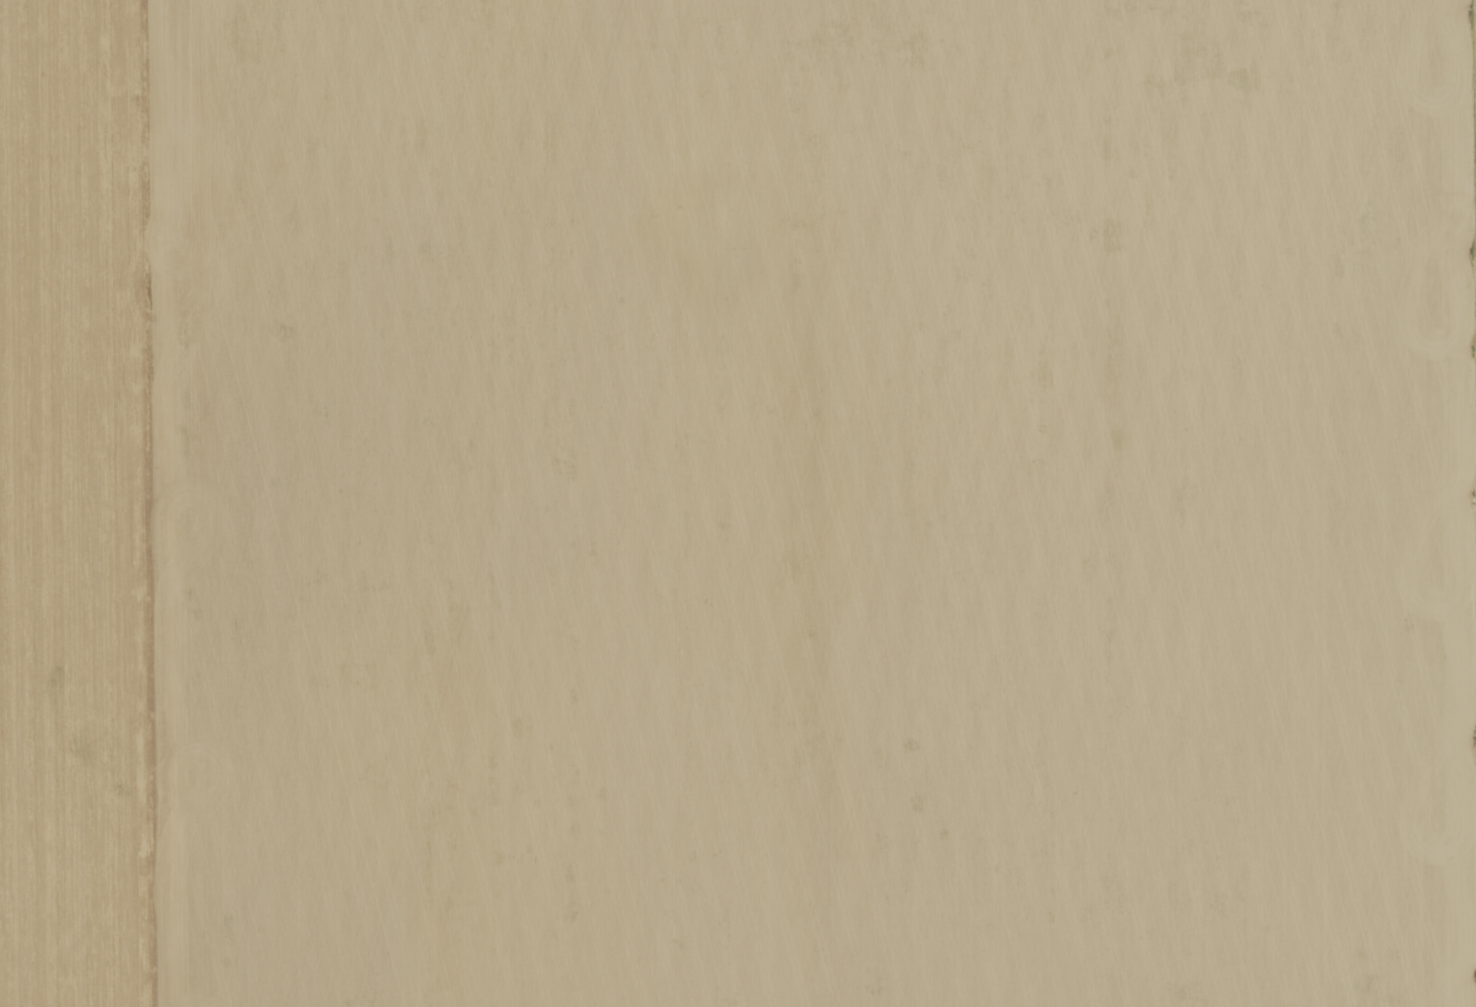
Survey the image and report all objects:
road: (734, 661)

